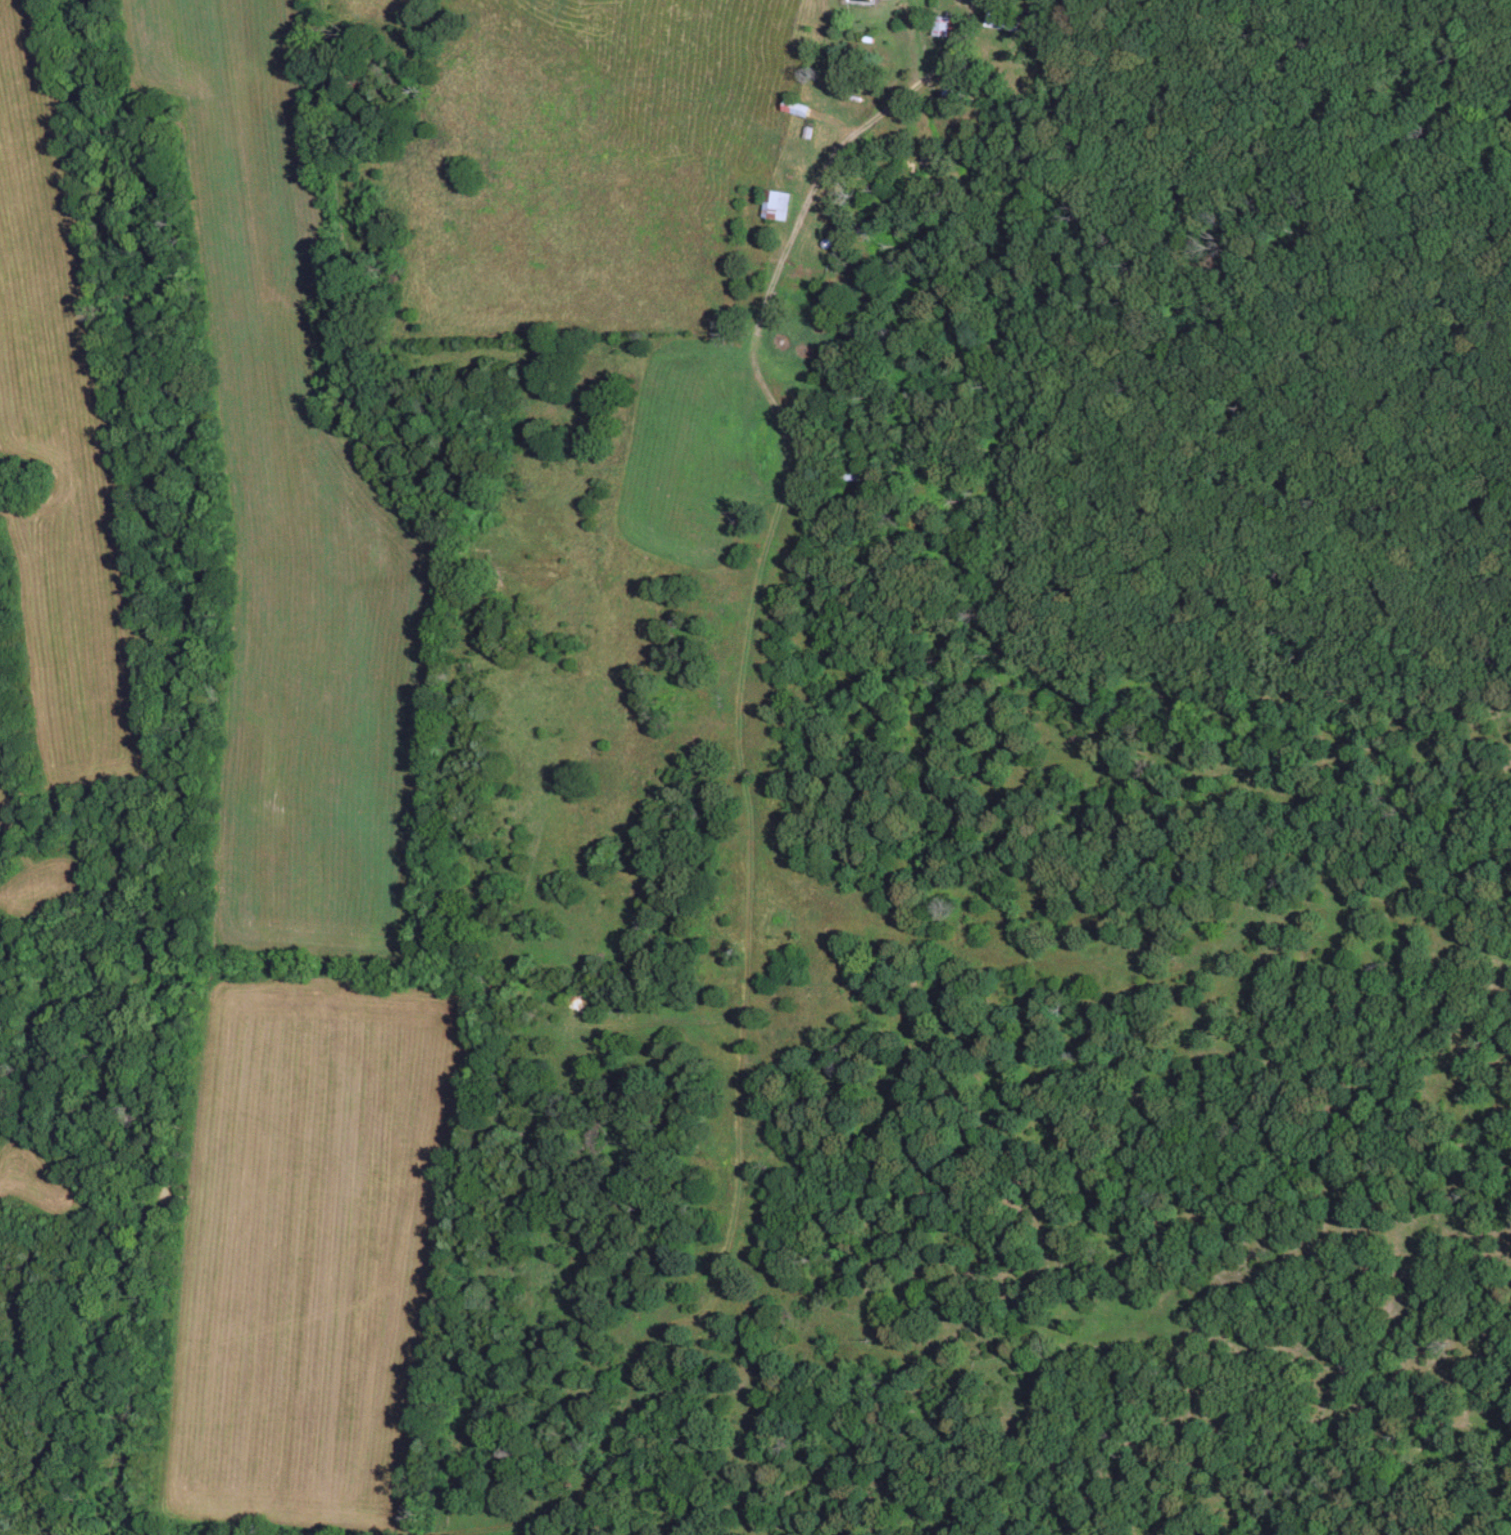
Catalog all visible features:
building: (1000, 23)
building: (940, 28)
building: (796, 109)
building: (777, 206)
road: (777, 426)

